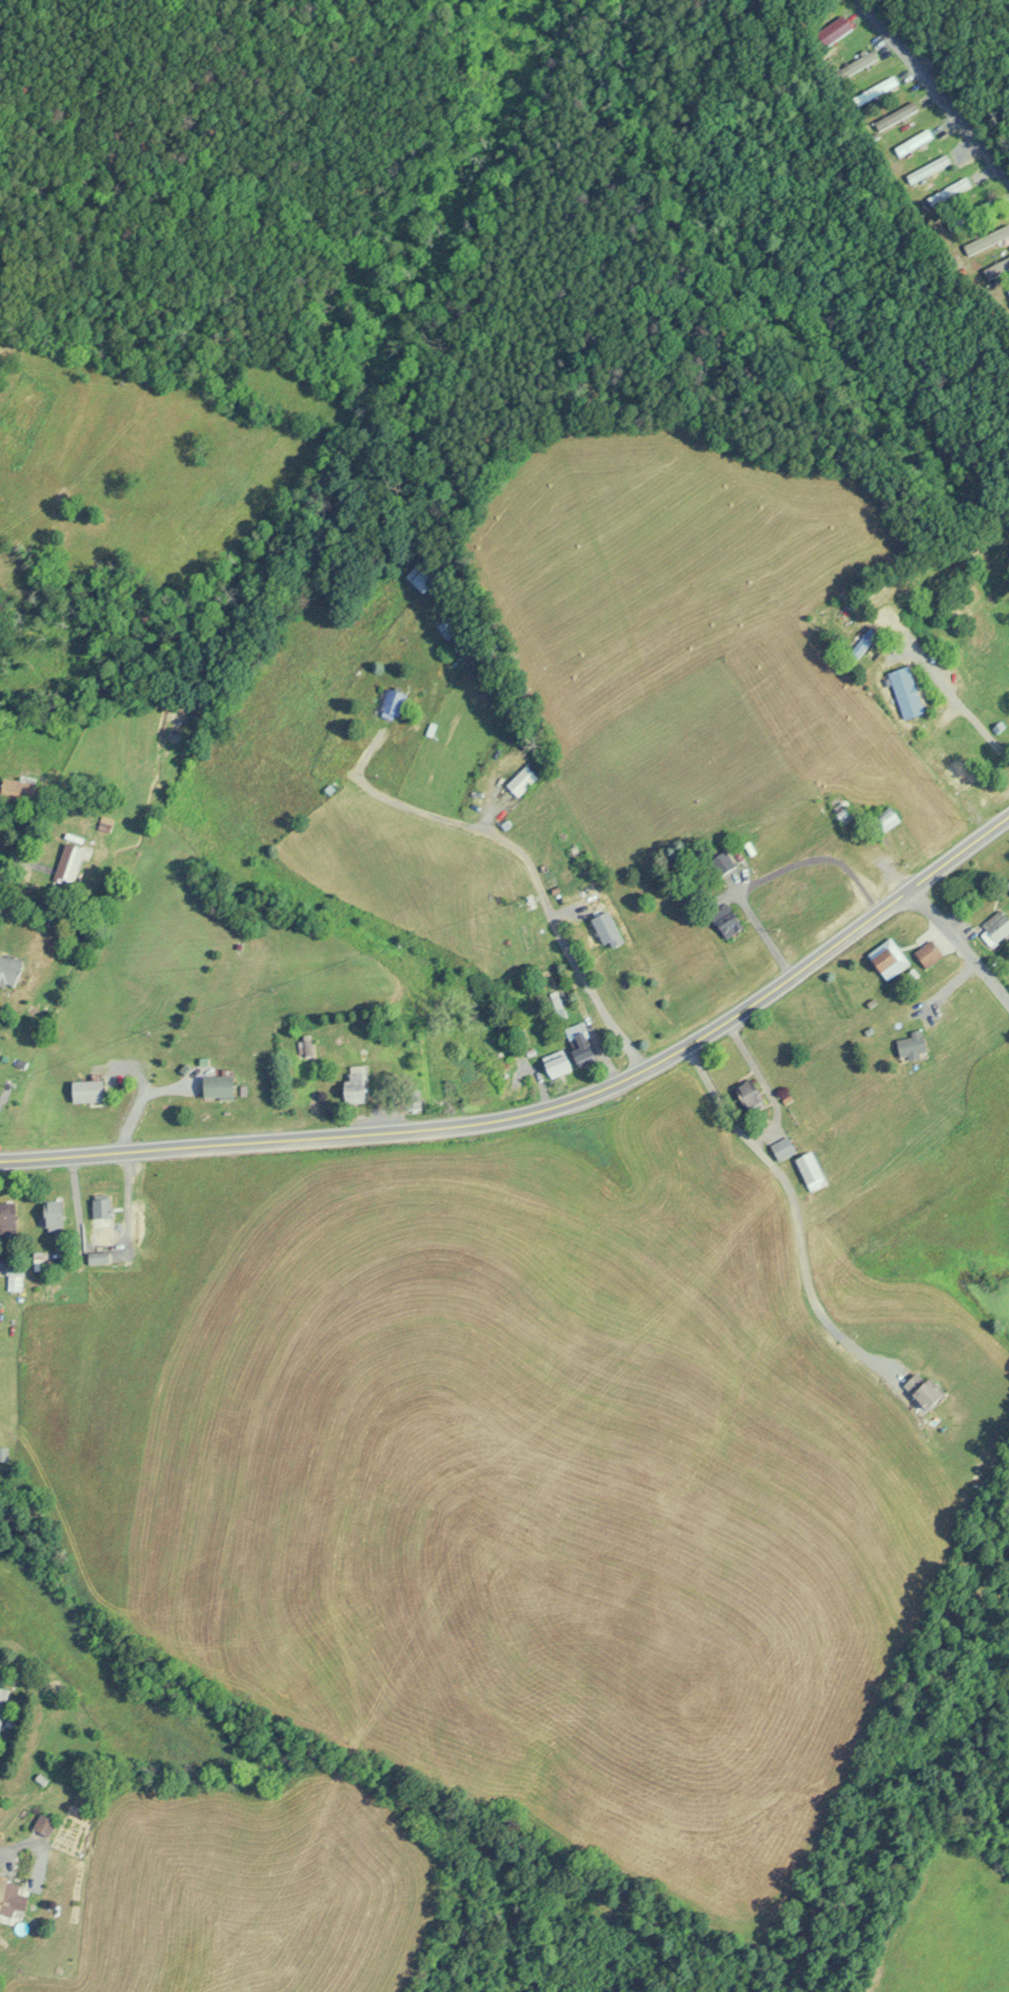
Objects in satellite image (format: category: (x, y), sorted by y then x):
building: (837, 28)
building: (858, 63)
building: (876, 89)
road: (935, 89)
building: (895, 114)
building: (914, 141)
building: (928, 168)
building: (948, 190)
building: (1008, 290)
building: (421, 578)
building: (449, 627)
building: (909, 691)
building: (394, 703)
road: (959, 704)
building: (175, 719)
building: (522, 780)
building: (23, 790)
building: (891, 818)
road: (20, 849)
road: (523, 857)
building: (73, 862)
building: (730, 919)
building: (998, 926)
building: (609, 928)
road: (755, 937)
road: (961, 949)
building: (932, 952)
building: (892, 957)
building: (11, 969)
road: (746, 1010)
building: (583, 1042)
building: (917, 1044)
building: (559, 1062)
building: (220, 1087)
building: (357, 1087)
road: (765, 1087)
building: (90, 1090)
building: (753, 1094)
road: (224, 1146)
building: (785, 1147)
building: (814, 1170)
road: (792, 1208)
building: (103, 1211)
building: (56, 1215)
building: (9, 1217)
building: (99, 1257)
road: (2, 1260)
building: (927, 1389)
building: (3, 1454)
crop: (499, 1466)
building: (3, 1704)
building: (39, 1780)
building: (45, 1823)
road: (2, 1858)
crop: (253, 1895)
building: (11, 1901)
crop: (963, 1935)

